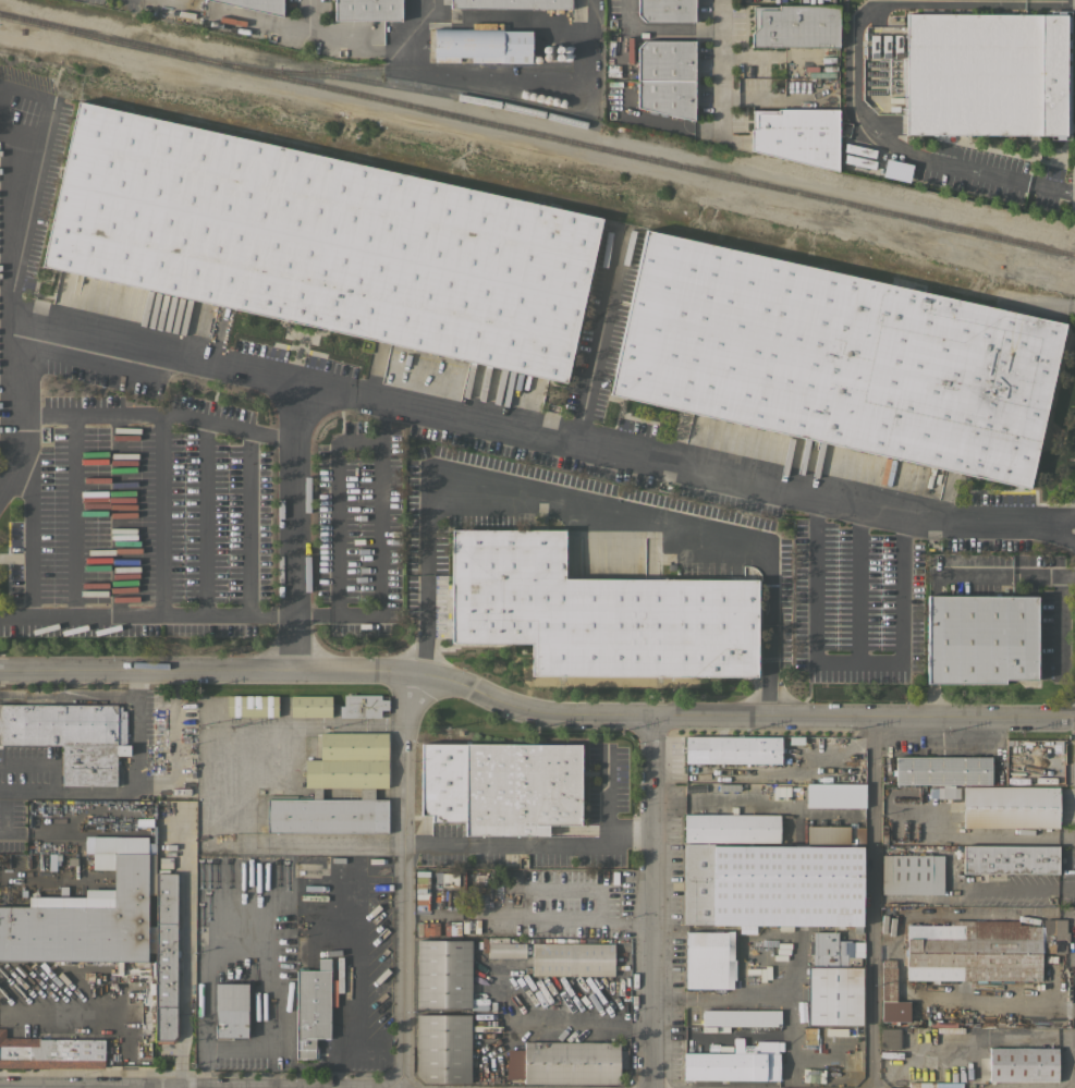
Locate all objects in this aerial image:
road: (169, 2)
building: (511, 3)
building: (258, 5)
building: (367, 10)
building: (665, 10)
road: (282, 25)
building: (795, 25)
road: (676, 29)
road: (376, 41)
building: (481, 45)
building: (665, 61)
road: (723, 63)
railway: (433, 66)
building: (984, 74)
railway: (427, 90)
building: (667, 97)
road: (684, 124)
railway: (537, 134)
building: (797, 135)
road: (897, 146)
building: (869, 162)
building: (895, 170)
road: (34, 186)
building: (320, 241)
road: (599, 344)
building: (835, 358)
road: (14, 411)
road: (156, 413)
road: (538, 440)
road: (334, 504)
road: (585, 510)
road: (293, 528)
road: (379, 554)
road: (1004, 573)
road: (857, 589)
building: (596, 612)
road: (146, 615)
road: (424, 622)
road: (1060, 623)
building: (980, 638)
road: (769, 669)
road: (847, 671)
road: (137, 684)
building: (252, 705)
building: (310, 706)
building: (362, 706)
road: (534, 708)
building: (70, 736)
building: (826, 741)
road: (136, 742)
building: (743, 749)
building: (942, 770)
building: (345, 773)
road: (215, 779)
building: (500, 785)
road: (606, 793)
building: (948, 793)
building: (831, 797)
building: (1011, 807)
building: (732, 828)
building: (827, 834)
building: (859, 835)
road: (980, 835)
road: (530, 844)
building: (1010, 859)
building: (913, 875)
road: (39, 876)
road: (406, 877)
building: (450, 879)
building: (772, 884)
road: (1021, 890)
road: (652, 901)
road: (868, 902)
building: (1028, 920)
building: (109, 927)
building: (981, 949)
building: (506, 950)
building: (572, 959)
building: (710, 959)
building: (442, 973)
building: (833, 982)
building: (918, 988)
building: (892, 994)
road: (203, 997)
building: (313, 1007)
building: (230, 1010)
building: (741, 1017)
road: (58, 1019)
road: (588, 1019)
building: (890, 1037)
building: (443, 1048)
building: (50, 1052)
building: (566, 1062)
building: (734, 1063)
building: (1023, 1064)
building: (934, 1084)

